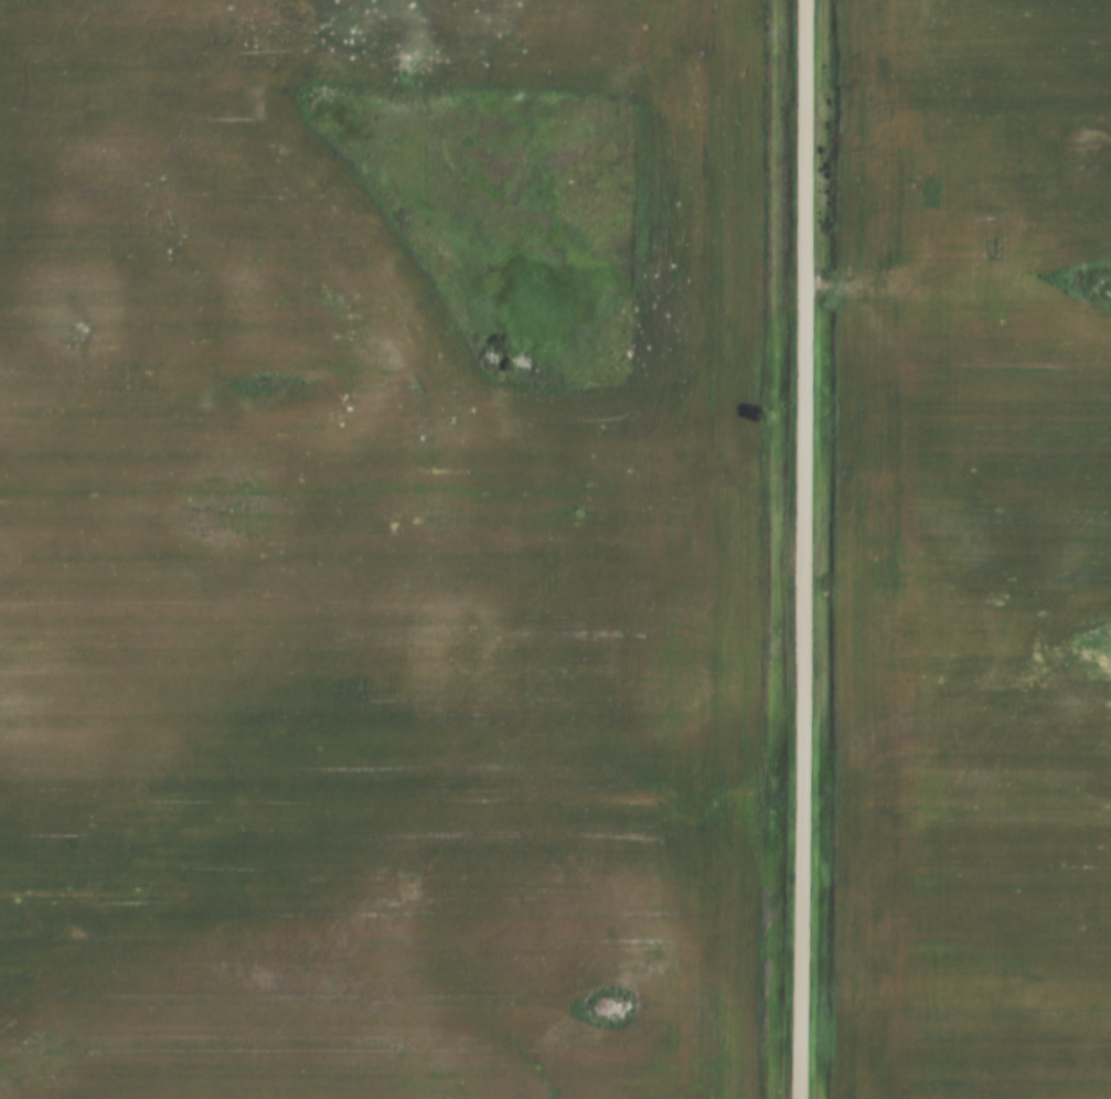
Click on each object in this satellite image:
road: (803, 549)

